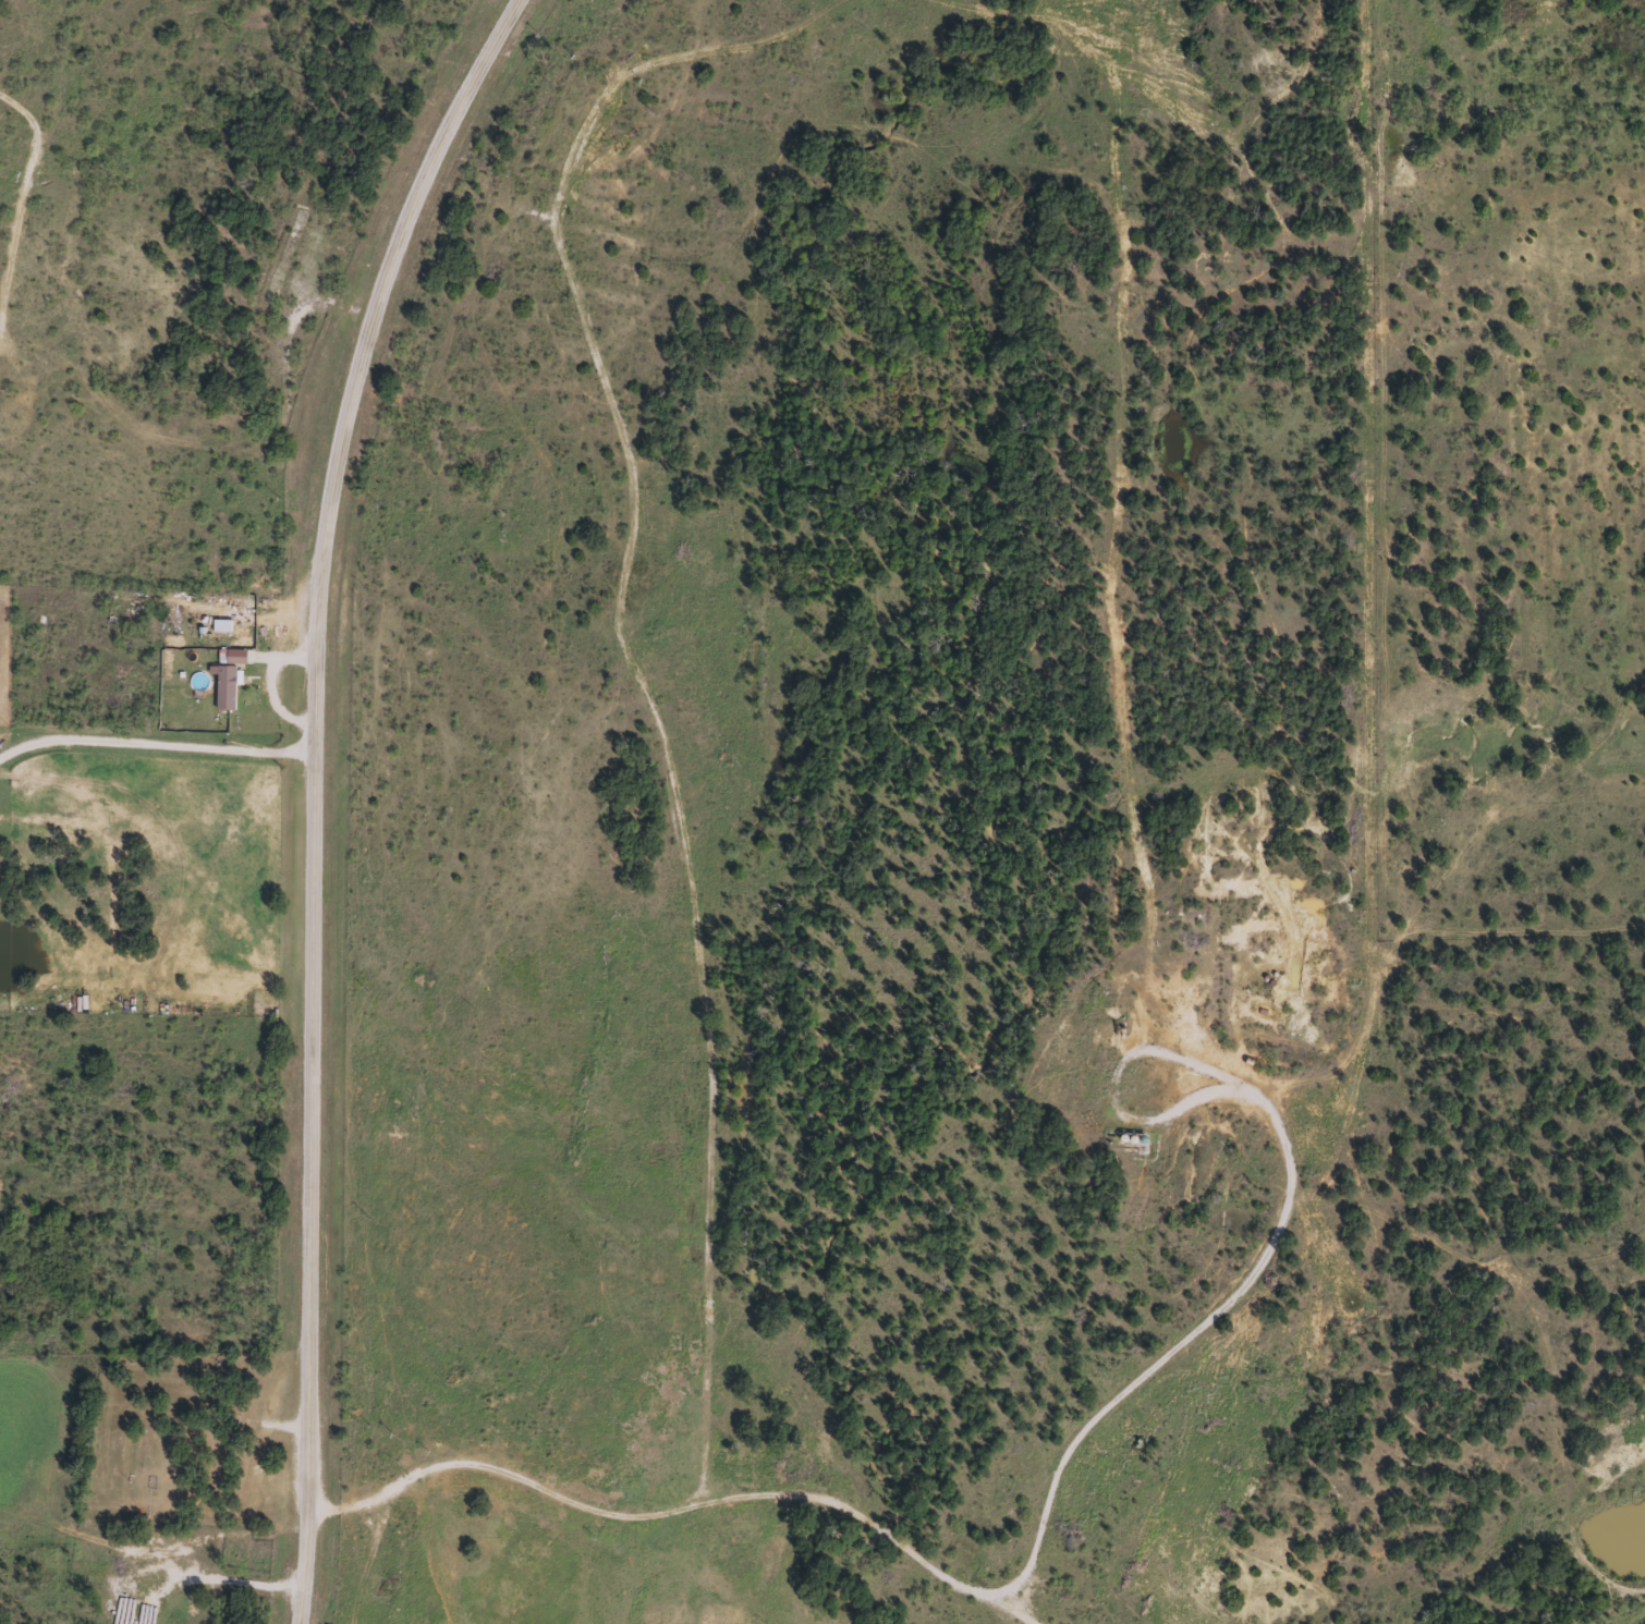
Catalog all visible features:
building: (233, 657)
building: (228, 688)
road: (319, 793)
park: (159, 1440)

